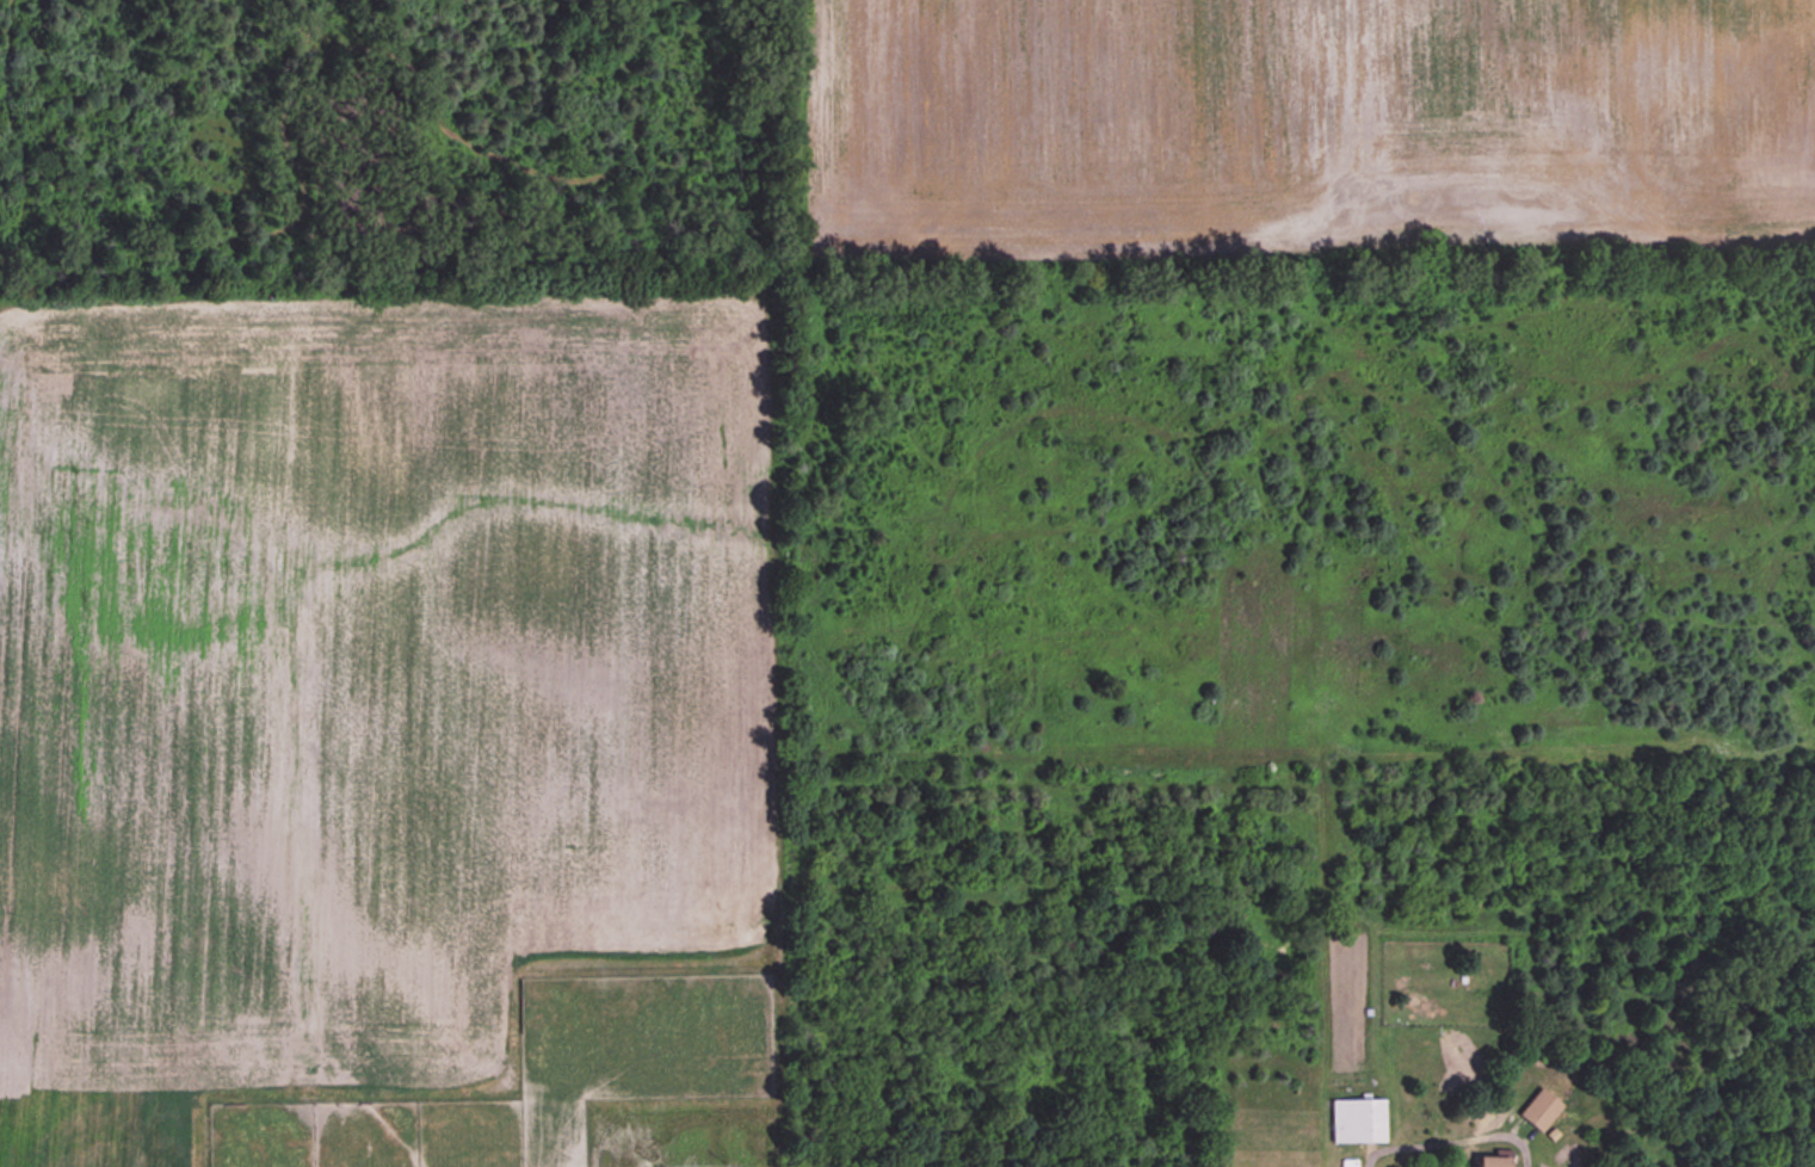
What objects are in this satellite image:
building: (1541, 1111)
building: (1357, 1122)
road: (1452, 1141)
building: (1493, 1162)
building: (1348, 1163)

